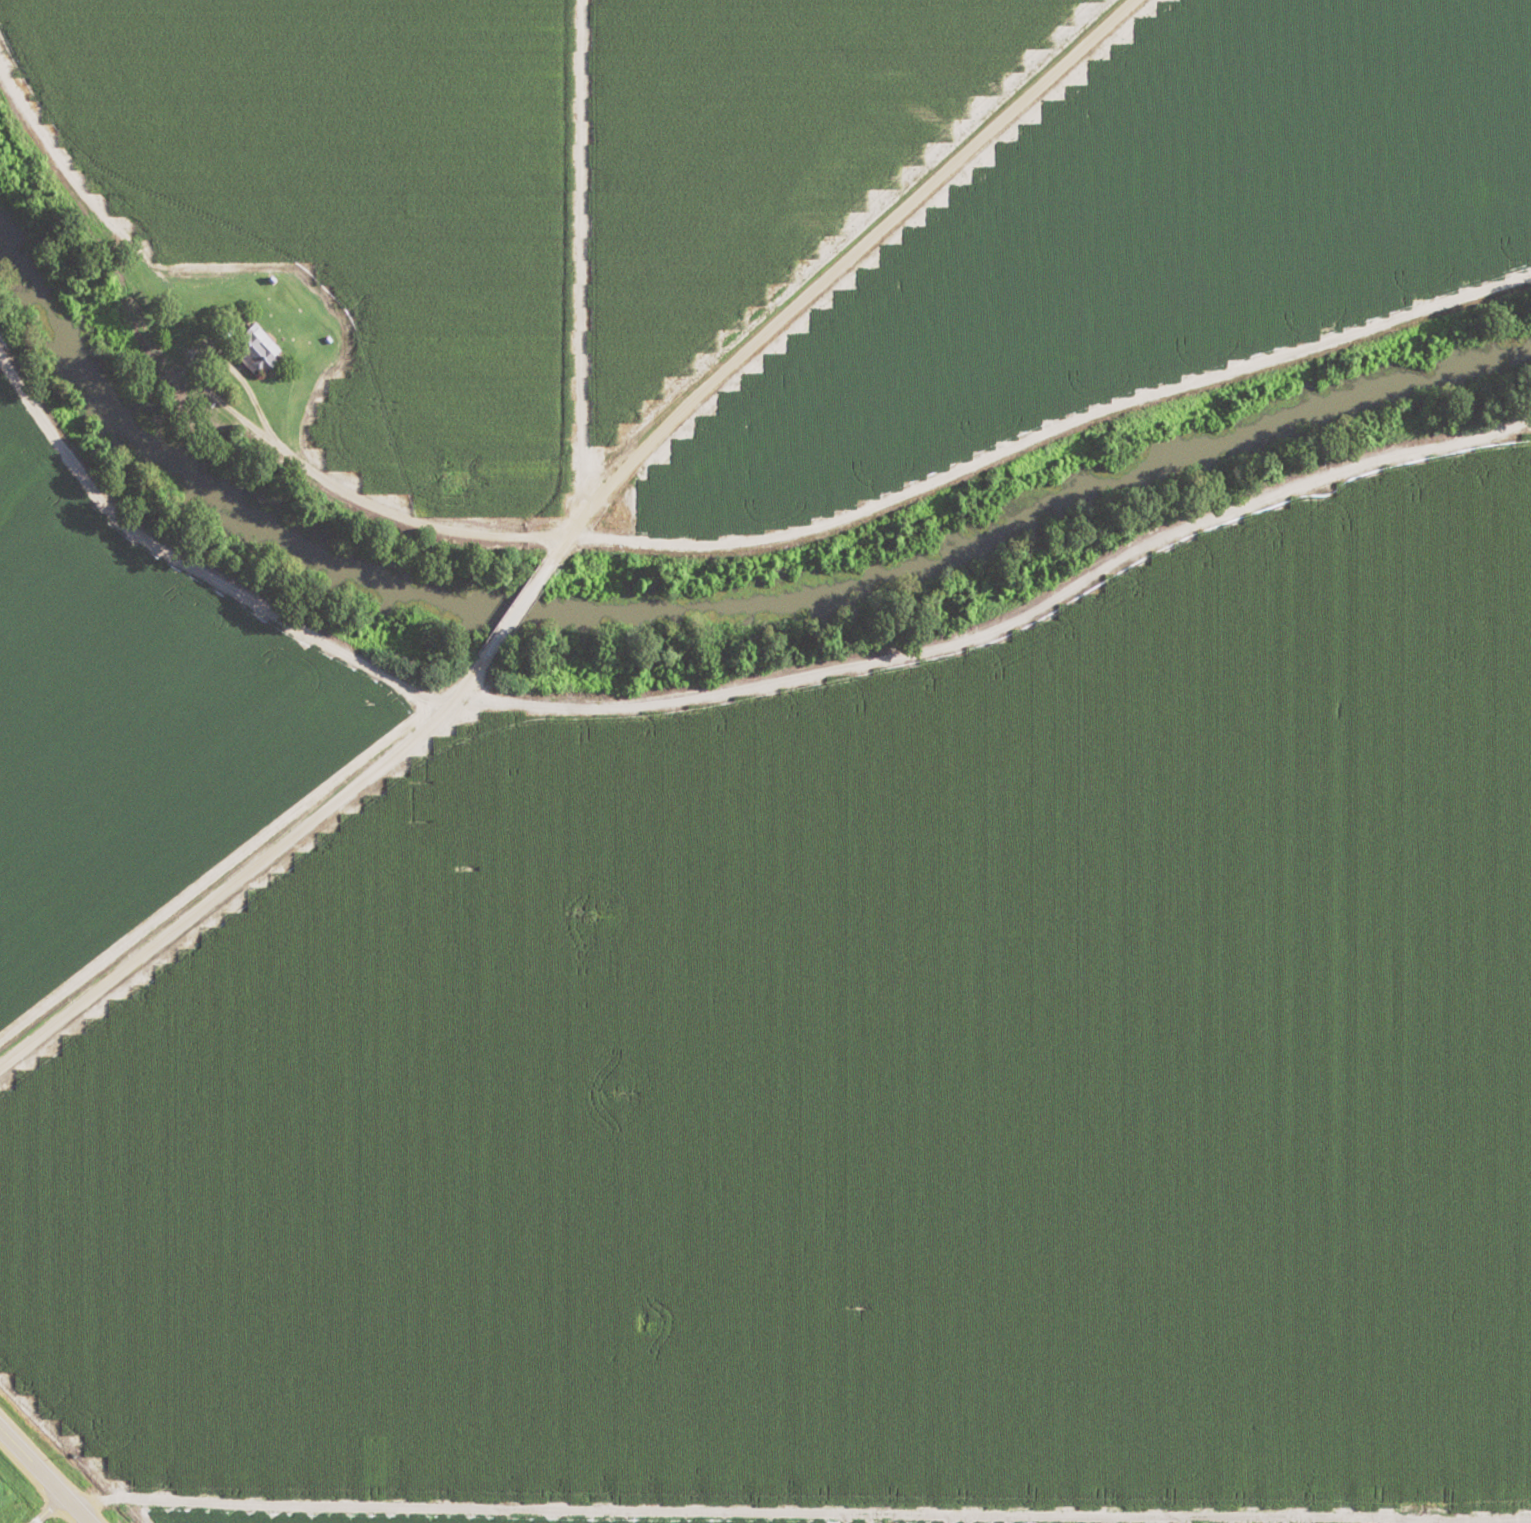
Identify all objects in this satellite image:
road: (820, 275)
building: (251, 347)
road: (1514, 477)
road: (680, 552)
road: (195, 567)
river: (694, 611)
road: (509, 615)
road: (1002, 624)
road: (463, 679)
road: (225, 884)
road: (44, 1476)
road: (776, 1503)

